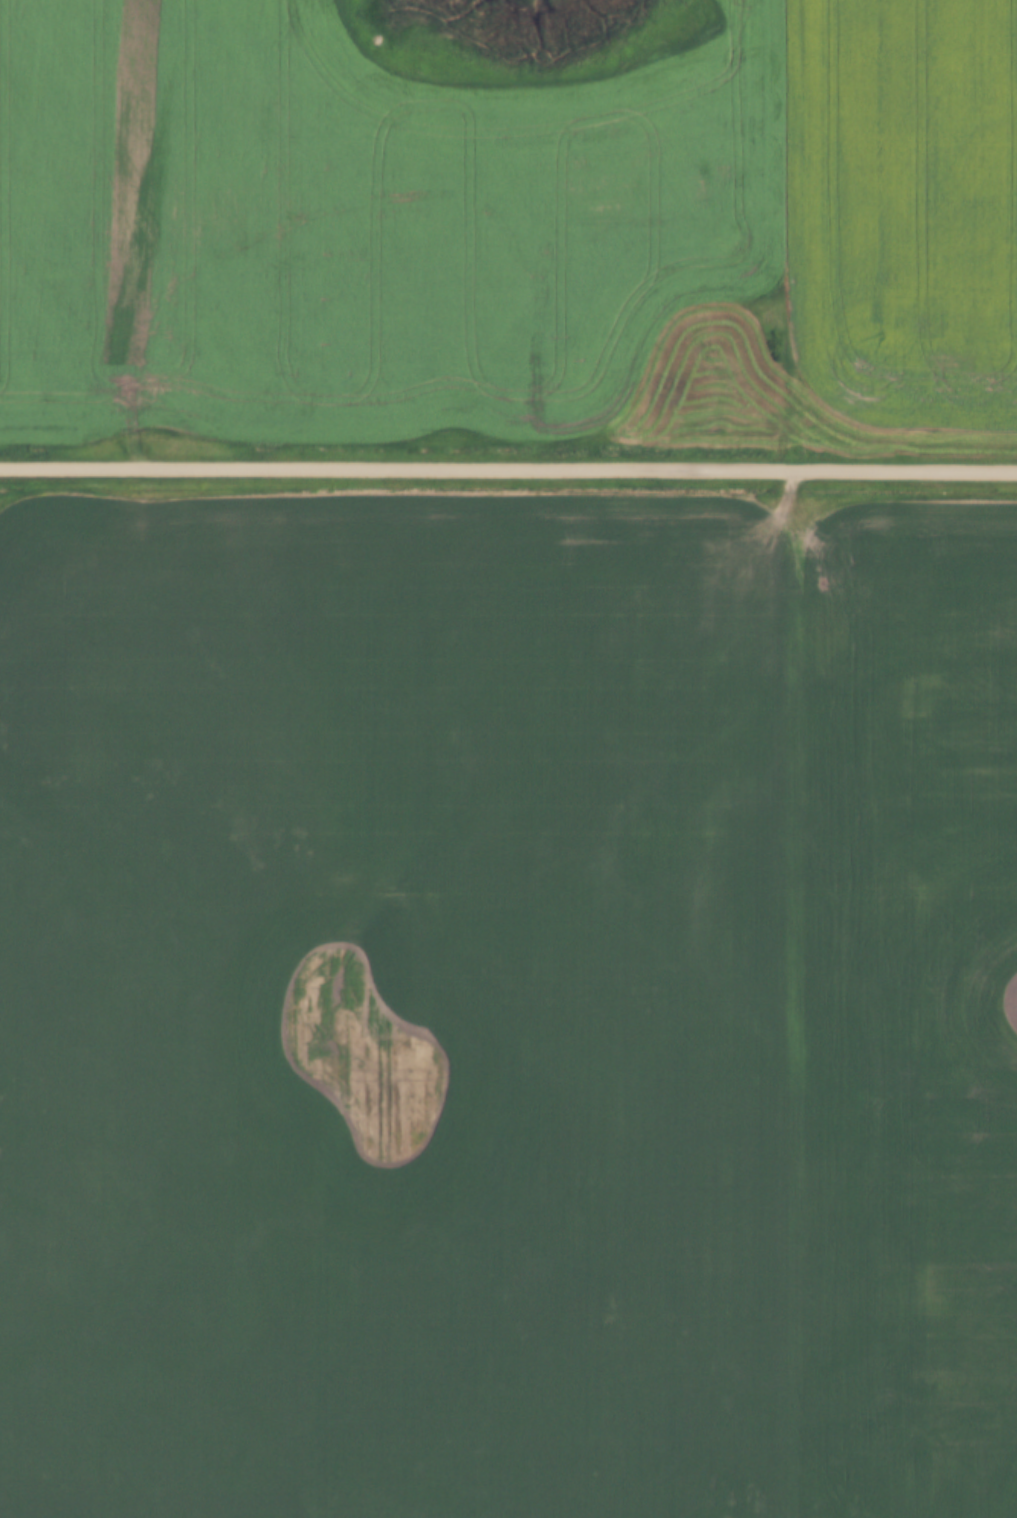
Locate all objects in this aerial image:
road: (508, 469)

